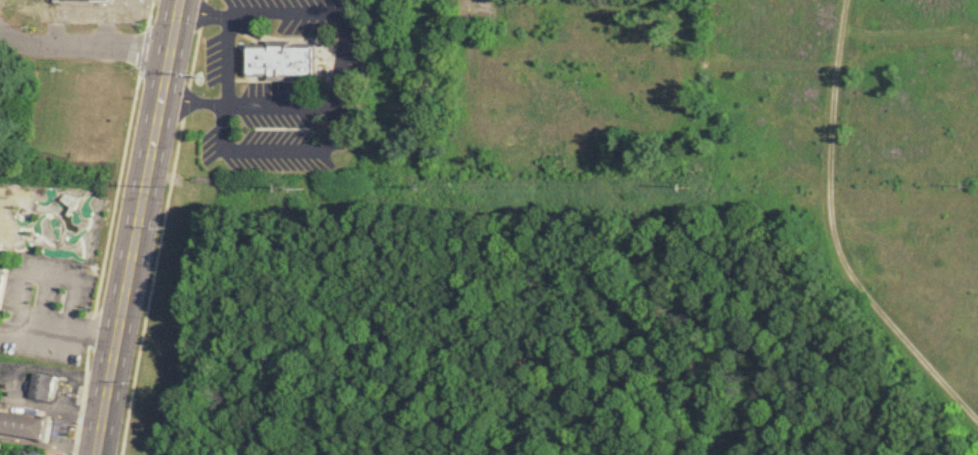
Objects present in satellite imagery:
building: (82, 0)
road: (204, 9)
road: (149, 14)
road: (85, 50)
road: (143, 50)
road: (341, 53)
building: (280, 58)
road: (228, 59)
building: (0, 87)
road: (196, 102)
road: (278, 147)
road: (139, 227)
road: (161, 227)
road: (839, 230)
building: (2, 258)
road: (103, 263)
road: (58, 327)
road: (41, 368)
building: (41, 385)
road: (57, 411)
building: (24, 424)
road: (49, 444)
building: (29, 451)

